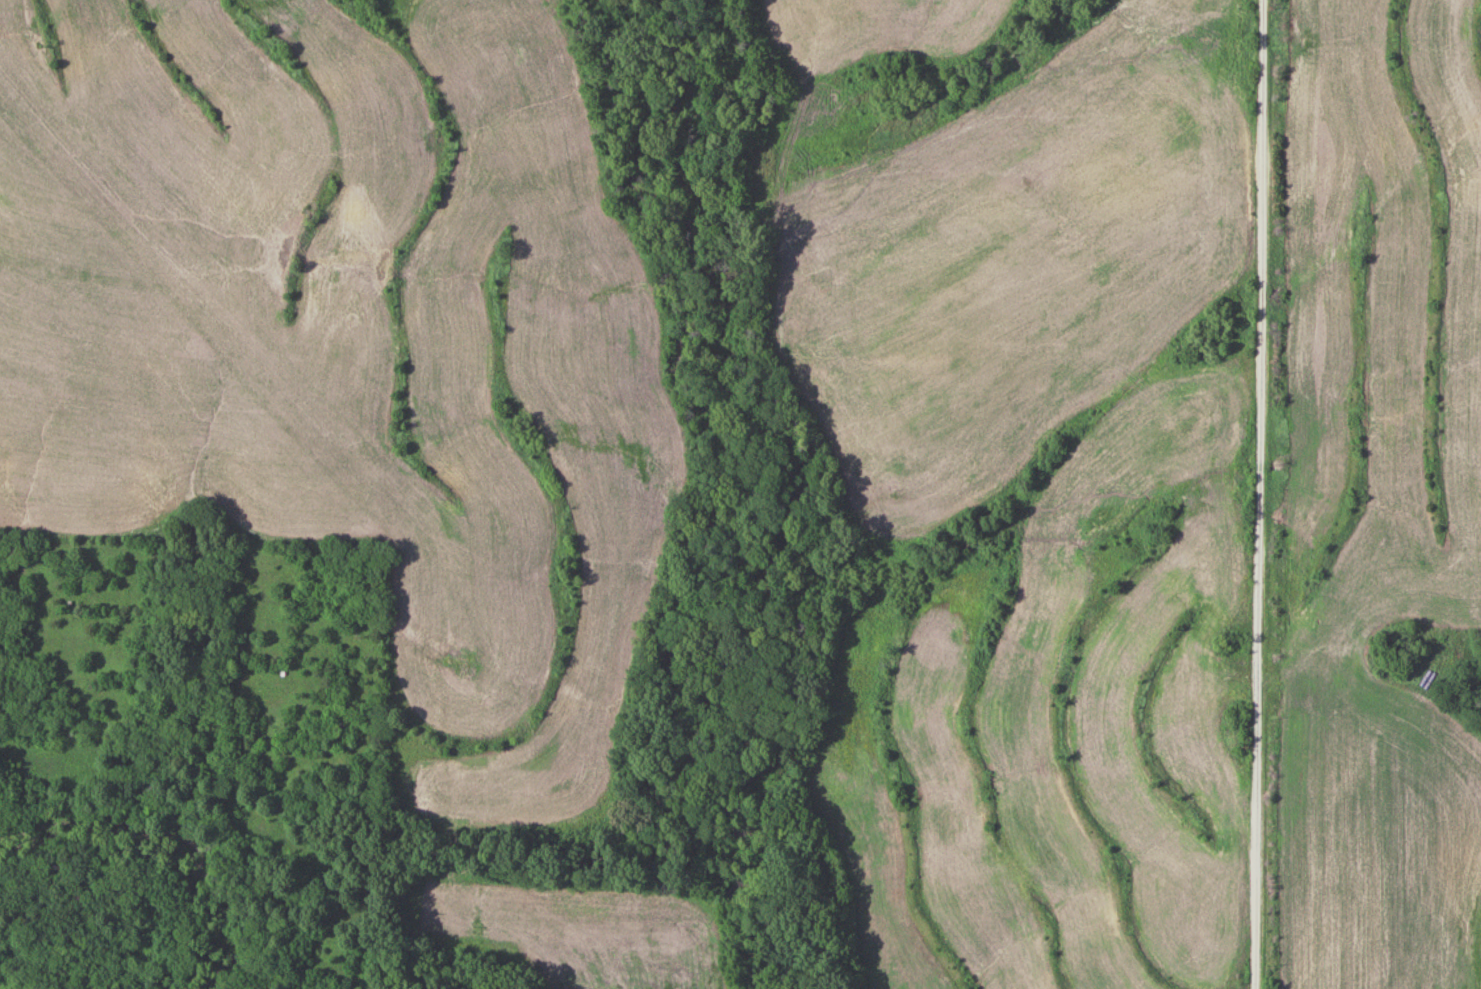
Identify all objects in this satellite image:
road: (1264, 494)

